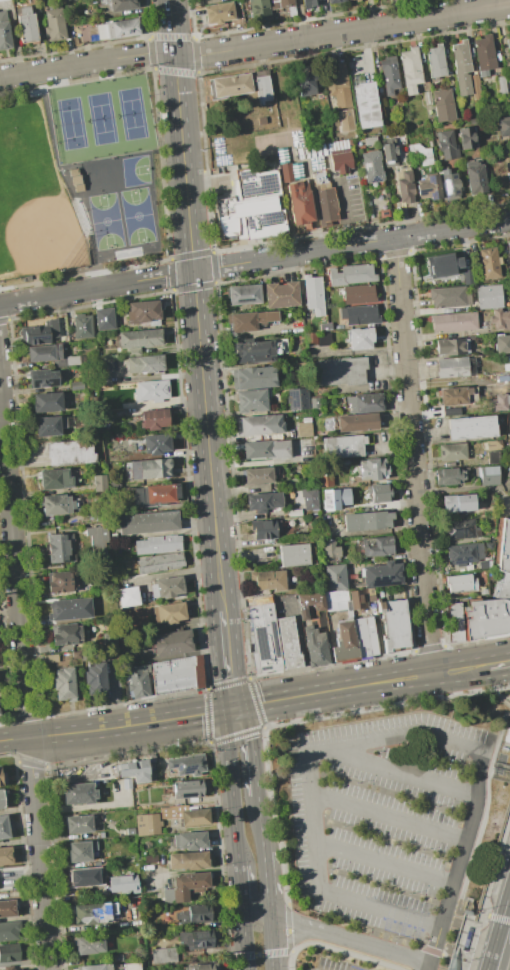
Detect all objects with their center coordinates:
building: (350, 0)
building: (357, 0)
building: (334, 1)
building: (311, 3)
building: (119, 4)
building: (281, 4)
building: (259, 10)
building: (218, 13)
building: (56, 24)
building: (27, 25)
building: (118, 29)
building: (4, 32)
building: (508, 44)
road: (255, 46)
building: (485, 55)
building: (436, 62)
building: (462, 67)
building: (410, 70)
building: (389, 75)
building: (309, 82)
building: (229, 86)
building: (338, 86)
building: (502, 86)
building: (509, 86)
building: (262, 87)
building: (475, 87)
building: (427, 98)
building: (366, 105)
building: (442, 105)
park: (133, 114)
park: (102, 120)
building: (478, 122)
building: (503, 126)
park: (72, 128)
building: (471, 138)
building: (370, 141)
building: (450, 145)
building: (389, 155)
building: (419, 155)
building: (342, 161)
building: (372, 168)
park: (138, 171)
park: (107, 176)
building: (478, 177)
park: (80, 179)
building: (76, 180)
building: (257, 183)
road: (67, 185)
parking lot: (224, 185)
building: (404, 185)
building: (453, 185)
building: (429, 188)
building: (297, 197)
park: (33, 198)
parking lot: (348, 198)
building: (325, 200)
road: (345, 212)
building: (250, 217)
park: (137, 218)
park: (106, 222)
building: (509, 247)
road: (254, 261)
building: (440, 263)
building: (489, 263)
traffic signals: (193, 271)
building: (351, 275)
building: (357, 294)
building: (244, 295)
building: (281, 295)
building: (313, 295)
building: (489, 296)
building: (448, 297)
road: (195, 306)
building: (144, 312)
building: (359, 315)
building: (499, 318)
building: (104, 319)
building: (251, 321)
building: (454, 322)
building: (82, 326)
building: (325, 327)
building: (40, 332)
building: (140, 338)
building: (359, 338)
building: (324, 339)
building: (310, 340)
building: (502, 344)
building: (452, 347)
building: (133, 352)
building: (255, 352)
building: (44, 353)
building: (67, 361)
building: (145, 364)
building: (298, 367)
building: (455, 367)
building: (340, 371)
building: (43, 378)
building: (101, 378)
building: (255, 378)
building: (76, 386)
building: (152, 391)
building: (454, 396)
building: (297, 399)
building: (253, 400)
building: (47, 403)
building: (364, 403)
building: (500, 403)
building: (315, 404)
building: (451, 412)
building: (154, 419)
building: (362, 422)
building: (259, 425)
building: (49, 426)
building: (304, 428)
building: (471, 428)
building: (153, 444)
building: (494, 445)
building: (343, 447)
building: (266, 449)
building: (70, 452)
building: (452, 452)
building: (509, 455)
road: (413, 456)
building: (493, 457)
building: (151, 469)
building: (370, 469)
building: (508, 473)
building: (259, 475)
building: (450, 476)
building: (489, 476)
building: (325, 478)
building: (55, 479)
building: (100, 482)
building: (379, 493)
building: (155, 495)
building: (335, 498)
building: (310, 500)
building: (263, 501)
building: (461, 503)
building: (58, 504)
building: (89, 519)
building: (367, 521)
building: (148, 522)
building: (271, 528)
building: (461, 529)
building: (113, 536)
building: (97, 537)
building: (158, 544)
building: (377, 546)
building: (60, 548)
building: (328, 548)
building: (464, 554)
building: (294, 555)
building: (159, 562)
building: (116, 564)
building: (483, 565)
building: (382, 574)
building: (335, 577)
building: (267, 580)
building: (62, 581)
building: (460, 583)
building: (167, 587)
building: (98, 591)
building: (493, 595)
building: (127, 596)
building: (361, 598)
building: (335, 600)
building: (309, 605)
building: (69, 609)
building: (169, 613)
building: (394, 625)
building: (455, 625)
building: (67, 634)
building: (366, 636)
building: (264, 638)
building: (345, 641)
building: (171, 643)
building: (288, 643)
road: (470, 643)
building: (316, 649)
building: (76, 655)
building: (50, 658)
road: (227, 659)
road: (508, 663)
road: (494, 665)
road: (508, 665)
building: (177, 675)
building: (95, 678)
road: (25, 679)
building: (138, 680)
road: (491, 681)
building: (64, 684)
road: (356, 686)
road: (501, 697)
traffic signals: (231, 708)
road: (297, 721)
road: (115, 727)
road: (272, 728)
road: (500, 734)
road: (253, 748)
road: (332, 749)
building: (187, 764)
building: (136, 772)
road: (405, 773)
building: (2, 779)
building: (127, 784)
road: (231, 784)
building: (186, 789)
building: (79, 793)
building: (2, 798)
road: (479, 805)
building: (175, 810)
road: (392, 814)
building: (195, 817)
parking lot: (388, 820)
building: (147, 824)
road: (260, 824)
building: (78, 825)
building: (4, 827)
road: (482, 830)
building: (130, 831)
building: (95, 835)
building: (189, 840)
building: (80, 851)
building: (6, 856)
building: (111, 857)
building: (188, 861)
road: (388, 864)
road: (493, 871)
building: (85, 877)
road: (239, 879)
road: (266, 882)
building: (125, 885)
building: (188, 885)
road: (454, 892)
road: (509, 895)
road: (505, 905)
road: (255, 906)
building: (8, 908)
road: (382, 908)
building: (93, 912)
road: (288, 914)
building: (194, 915)
road: (495, 917)
road: (292, 921)
building: (9, 930)
road: (244, 934)
road: (341, 936)
road: (473, 937)
road: (292, 938)
building: (197, 939)
road: (454, 940)
road: (270, 942)
building: (90, 944)
road: (437, 944)
road: (493, 944)
road: (498, 944)
road: (337, 949)
road: (283, 952)
building: (9, 953)
road: (399, 953)
building: (164, 955)
parking lot: (335, 965)
building: (131, 966)
building: (202, 966)
road: (431, 966)
road: (439, 966)
building: (96, 967)
building: (11, 968)
parking lot: (310, 969)

